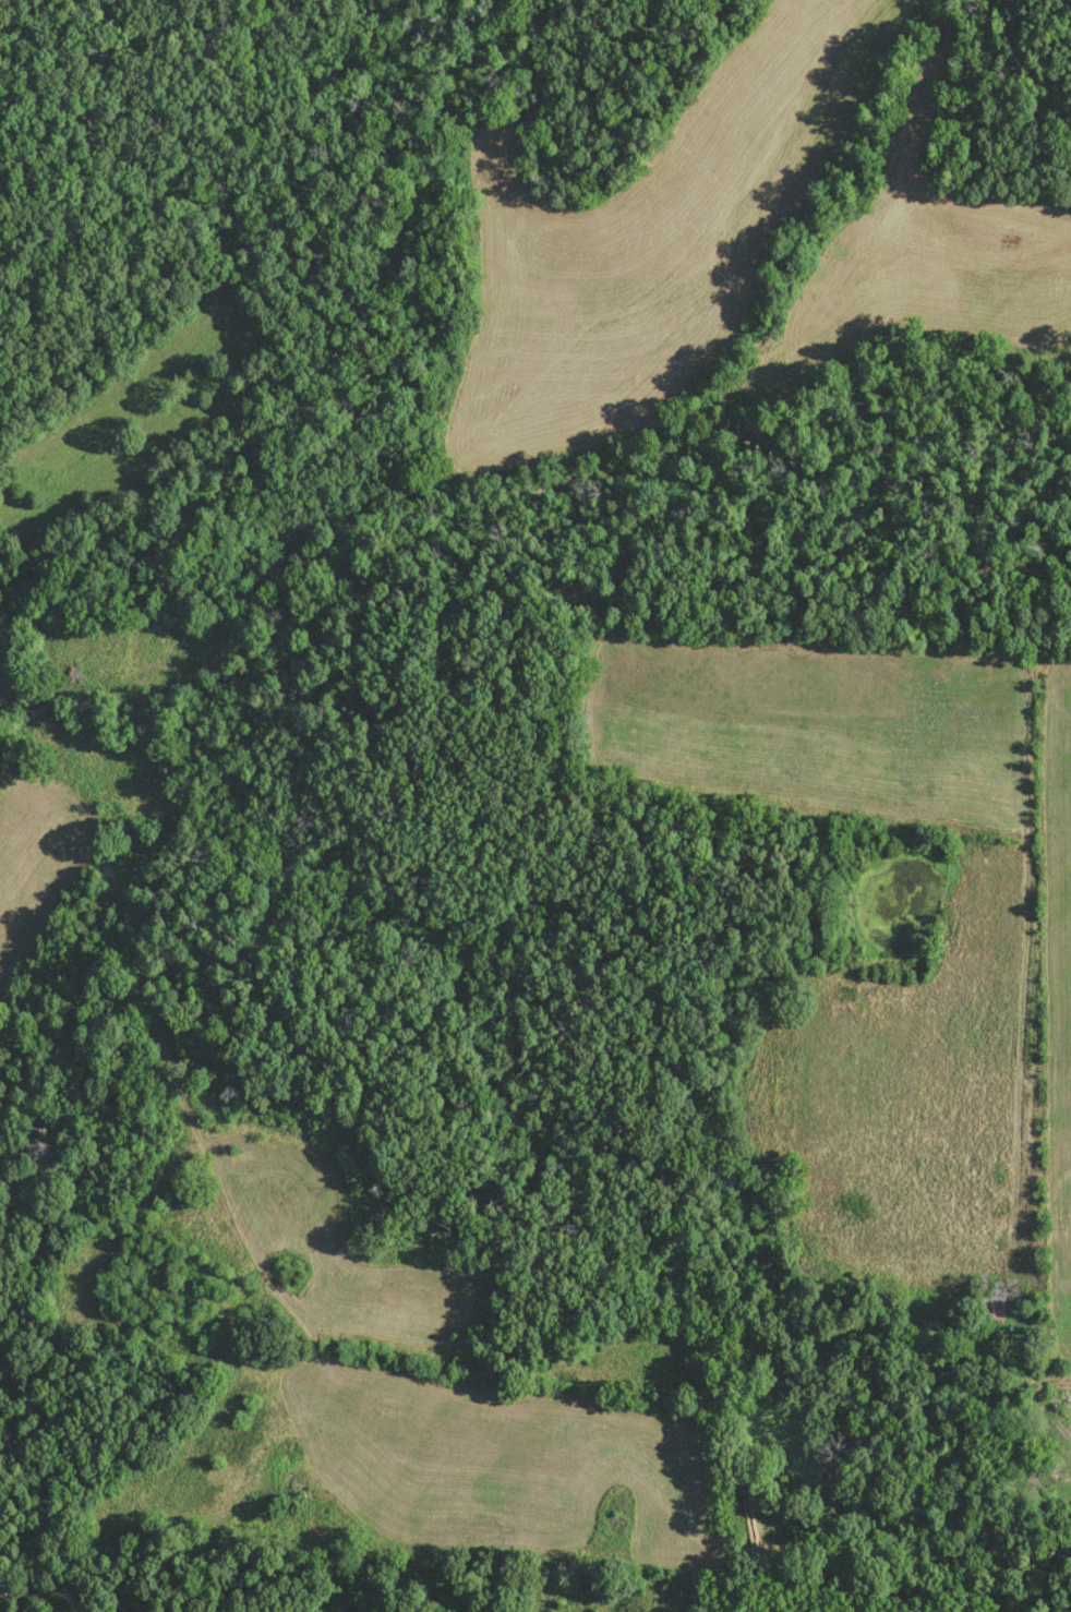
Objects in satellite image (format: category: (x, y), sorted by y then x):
building: (992, 1304)

